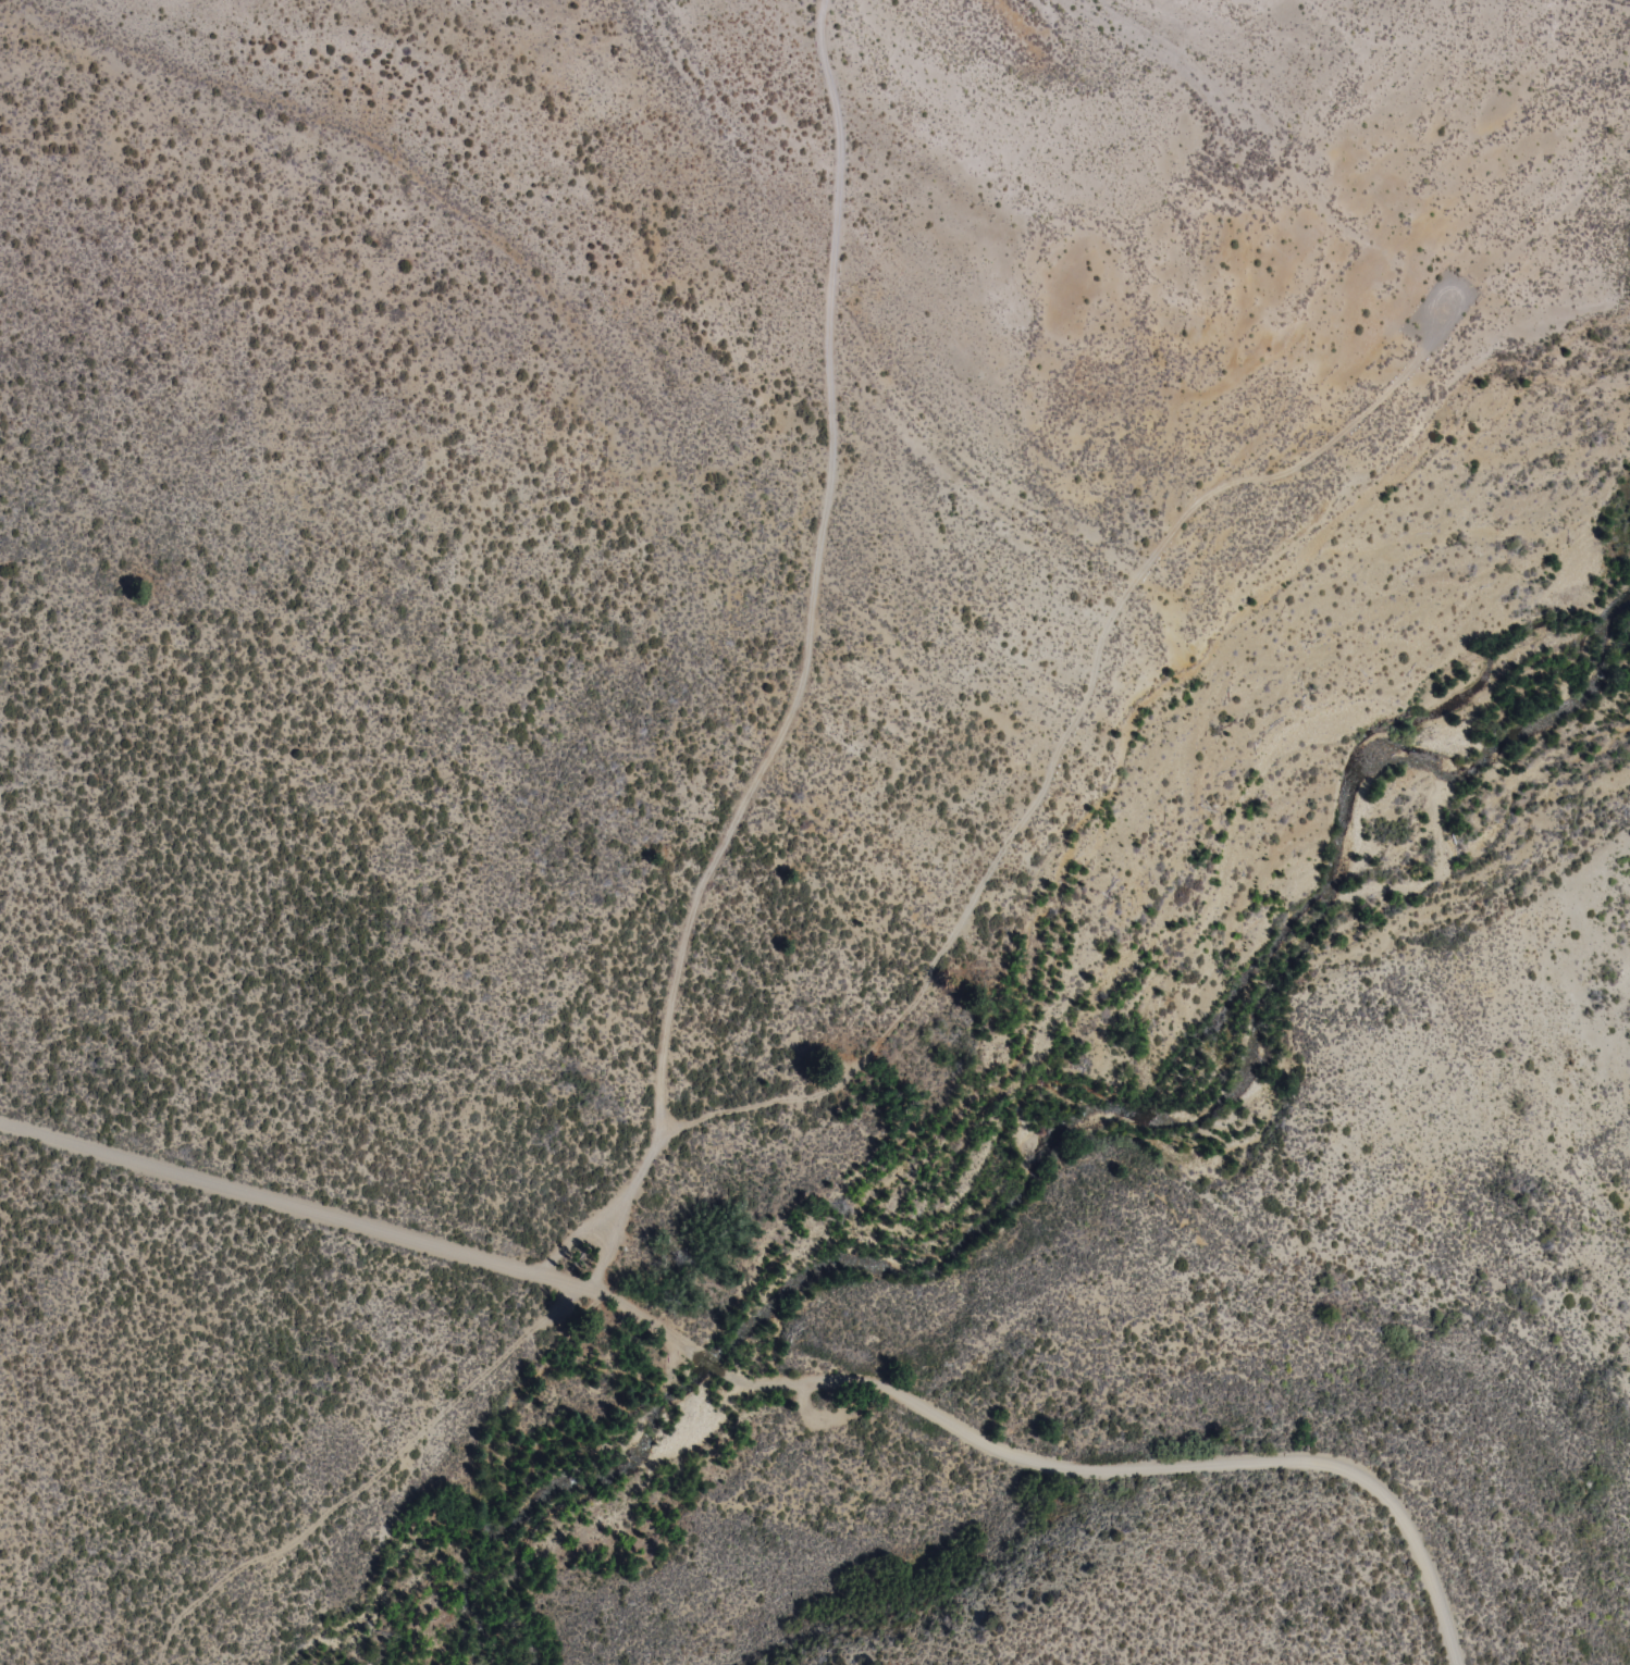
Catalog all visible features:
road: (838, 121)
road: (1541, 223)
road: (1062, 743)
road: (754, 781)
road: (570, 1247)
road: (775, 1380)
road: (805, 1411)
road: (367, 1480)

